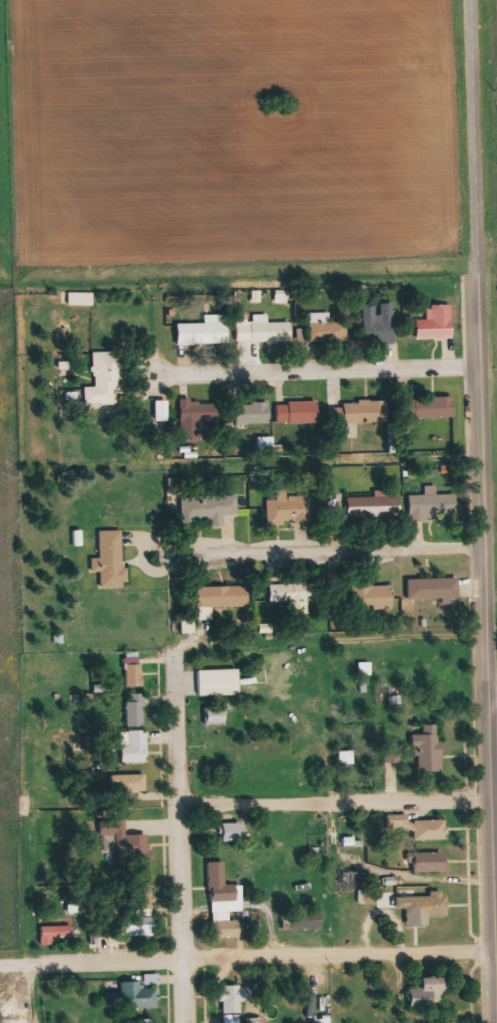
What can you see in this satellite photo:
road: (476, 104)
building: (80, 298)
building: (379, 322)
building: (437, 323)
building: (326, 329)
building: (264, 332)
building: (202, 334)
road: (337, 370)
building: (106, 378)
building: (434, 406)
building: (161, 410)
building: (253, 412)
building: (297, 412)
building: (365, 412)
building: (196, 418)
building: (431, 504)
building: (373, 506)
building: (209, 507)
building: (288, 509)
road: (488, 525)
road: (336, 557)
building: (110, 559)
building: (433, 588)
building: (294, 592)
building: (222, 596)
building: (372, 596)
building: (205, 632)
building: (133, 669)
building: (219, 681)
road: (495, 699)
building: (134, 709)
building: (215, 715)
building: (135, 748)
building: (429, 749)
building: (346, 758)
building: (130, 783)
road: (337, 806)
building: (417, 827)
building: (231, 831)
building: (126, 837)
road: (179, 838)
building: (430, 862)
building: (223, 891)
building: (424, 905)
building: (306, 920)
building: (143, 926)
building: (225, 928)
building: (57, 934)
road: (248, 960)
building: (428, 990)
building: (137, 994)
building: (235, 998)

